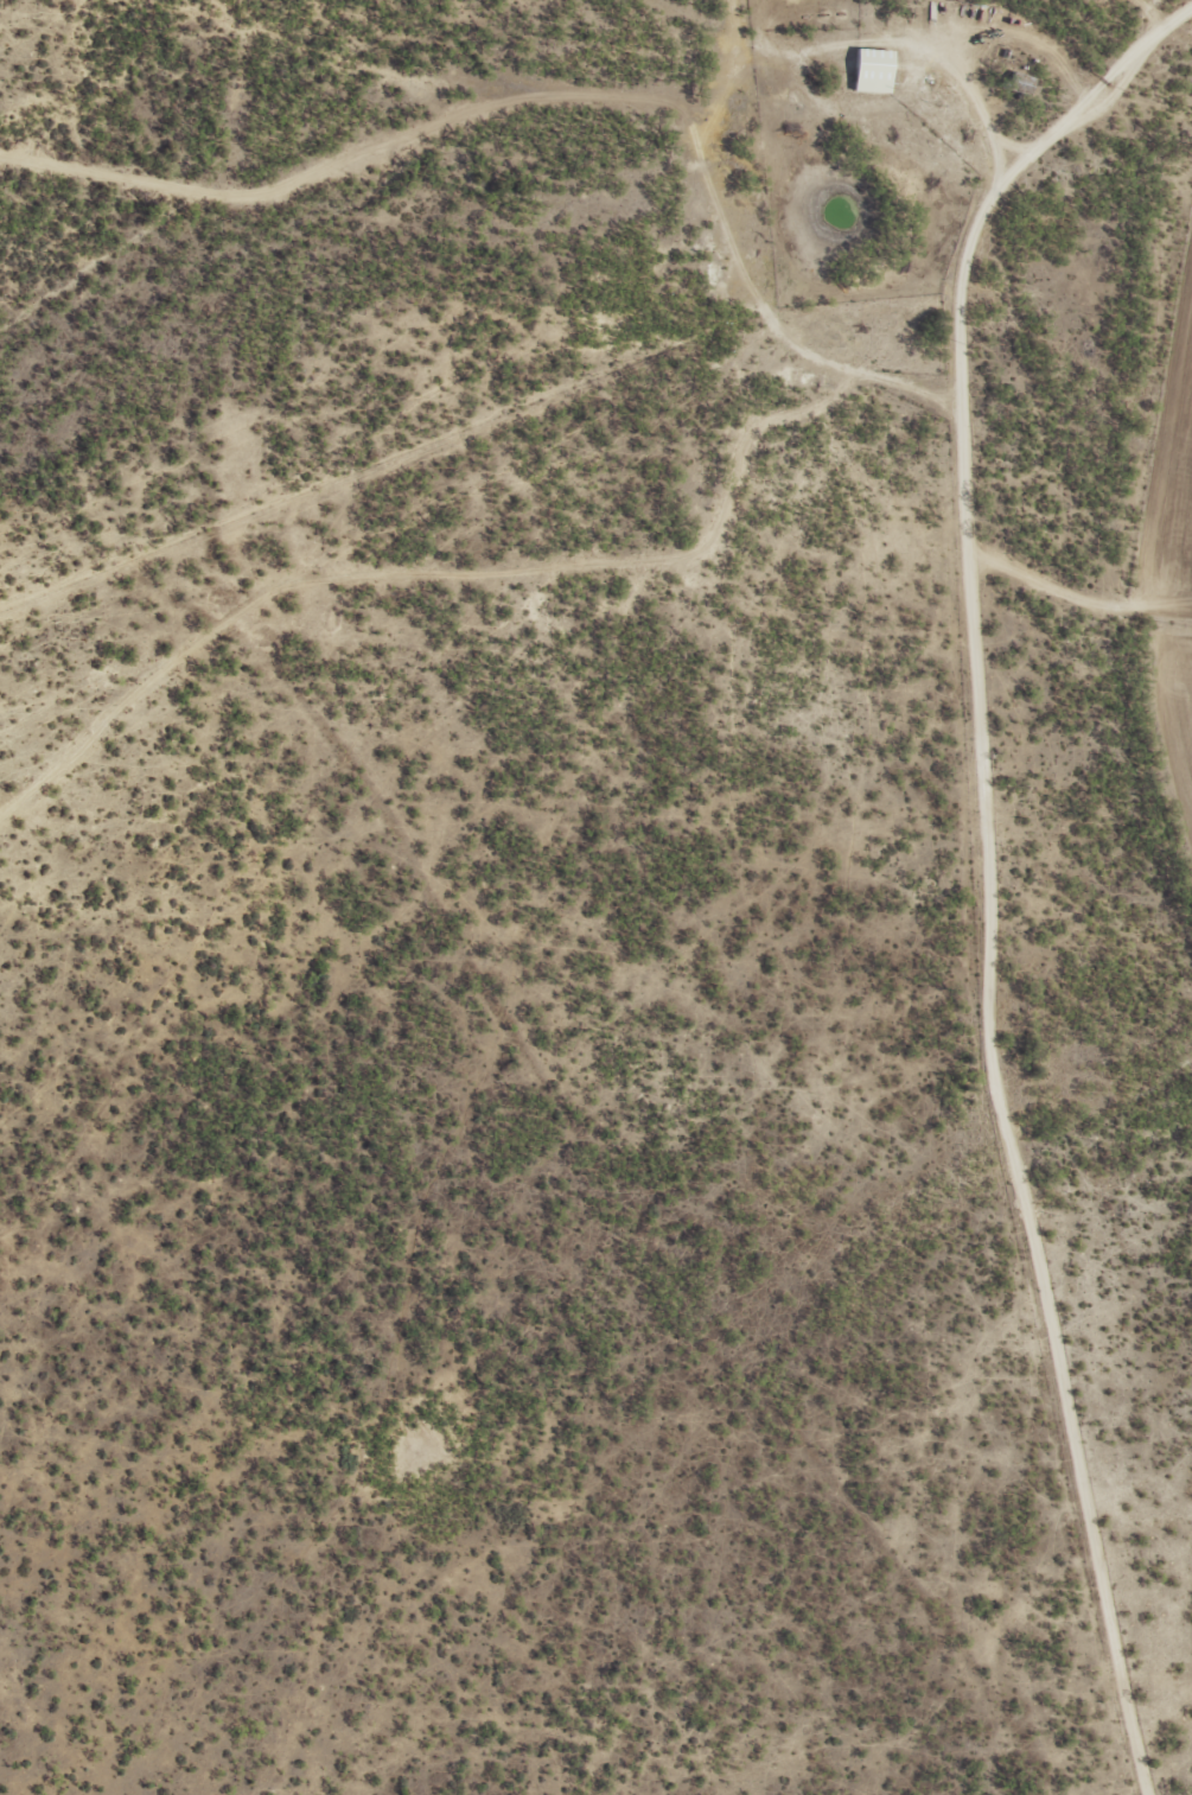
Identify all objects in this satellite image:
road: (295, 182)
road: (1054, 763)

